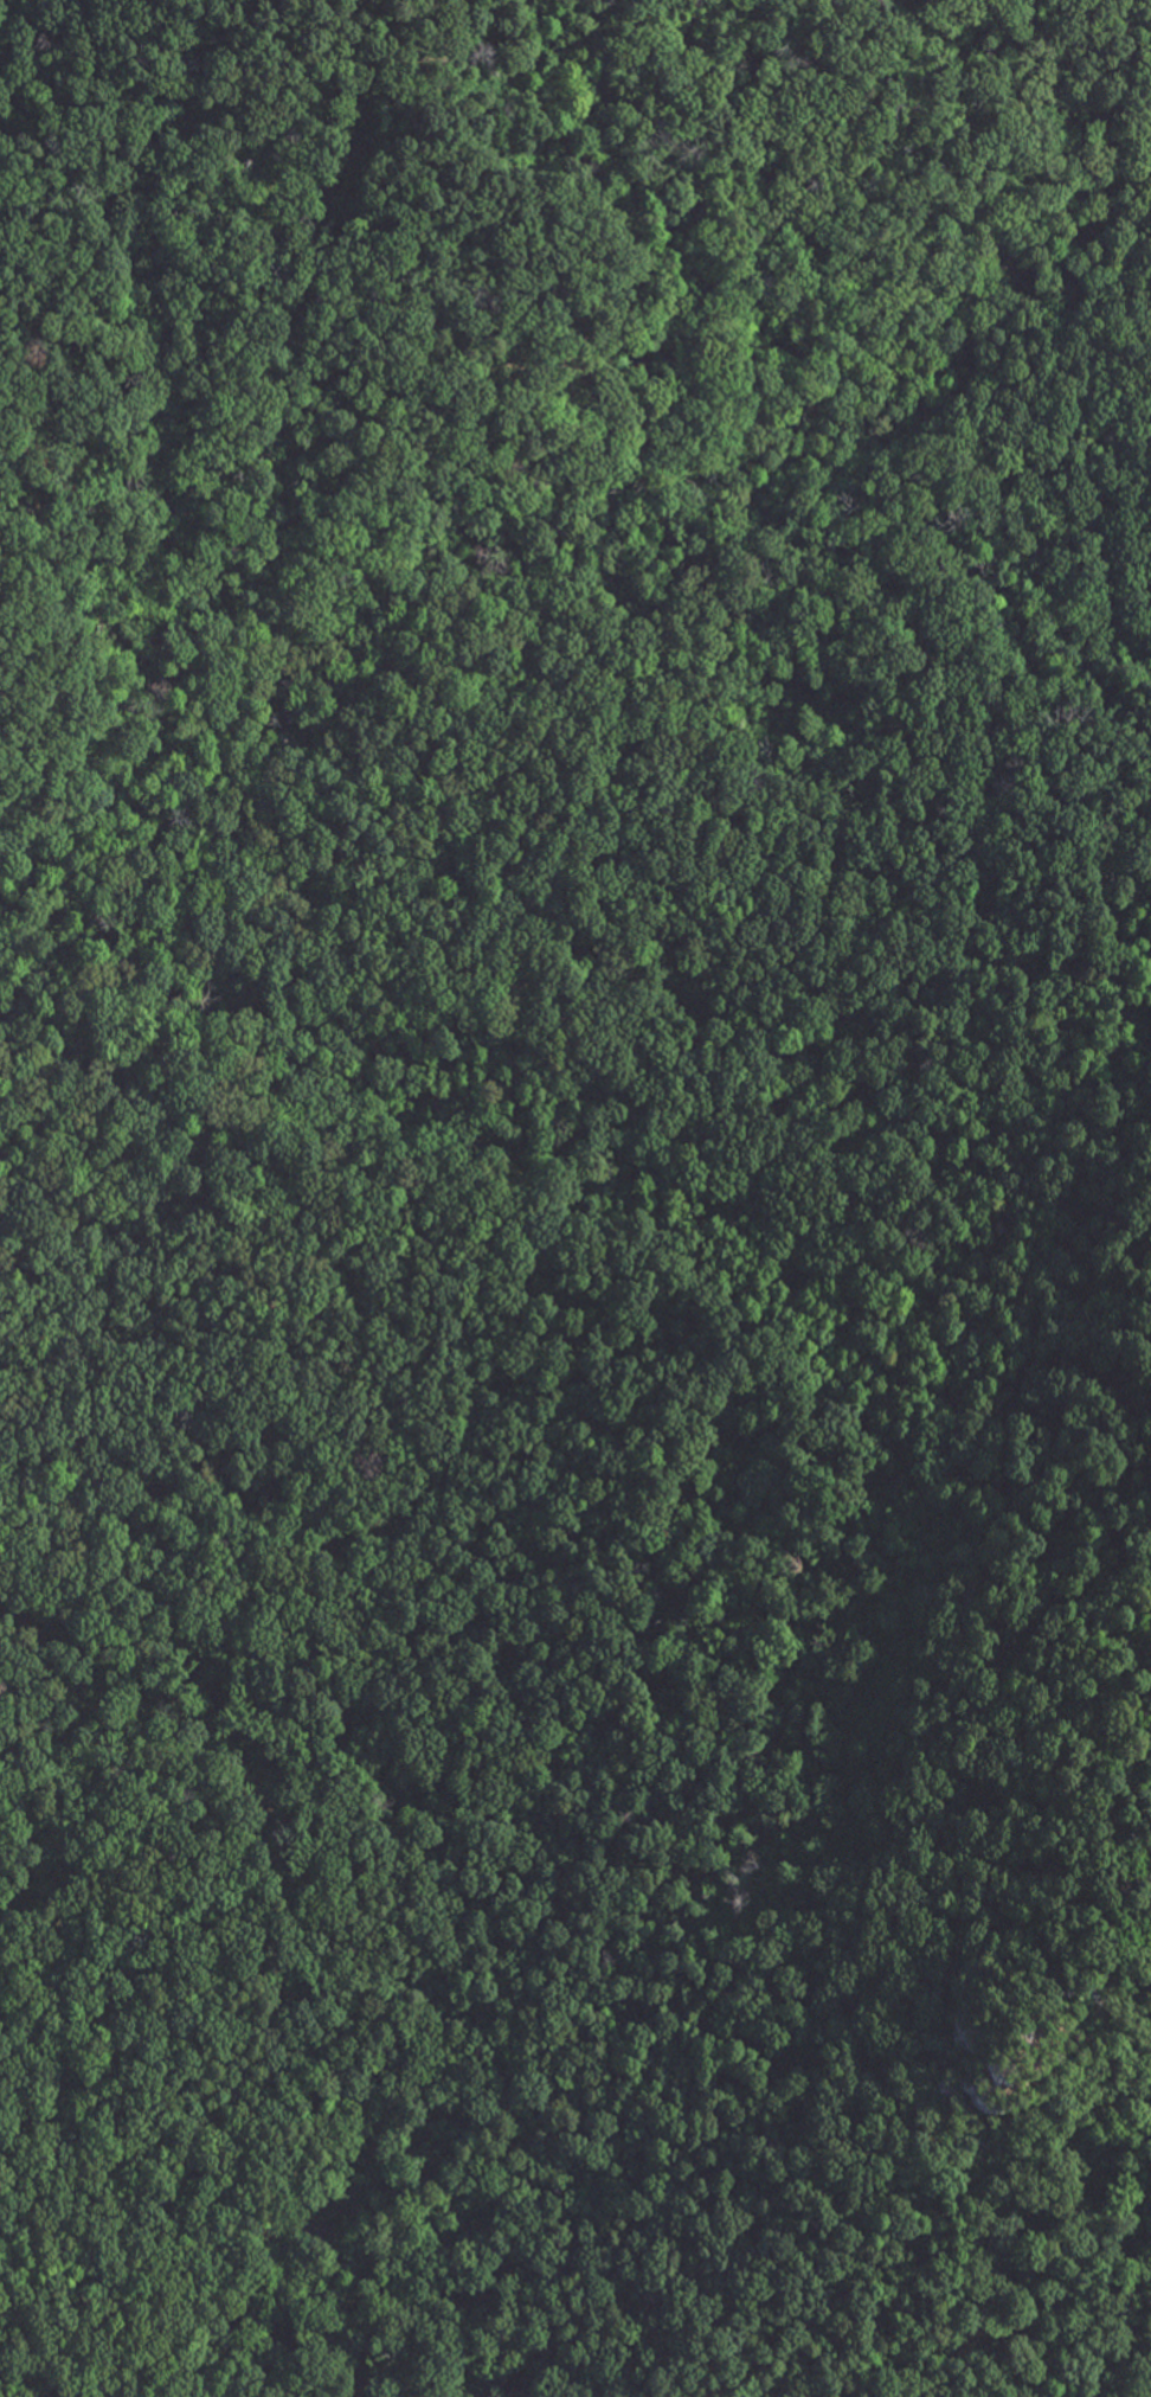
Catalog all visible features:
road: (1100, 1916)
road: (570, 1979)
road: (738, 2274)

